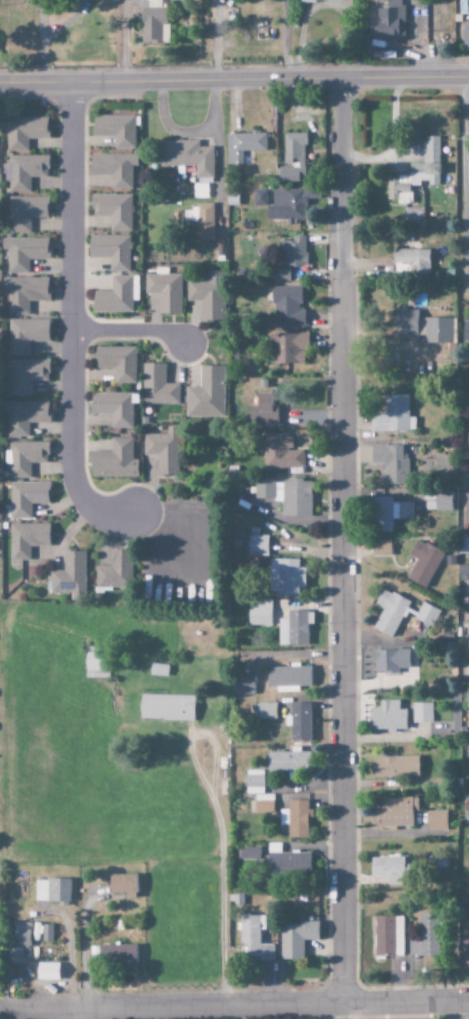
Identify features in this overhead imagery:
building: (146, 0)
building: (317, 0)
building: (388, 20)
building: (153, 25)
building: (465, 36)
road: (234, 80)
building: (115, 130)
building: (22, 132)
building: (243, 145)
building: (187, 157)
building: (114, 170)
building: (25, 172)
building: (416, 173)
building: (259, 198)
building: (286, 206)
building: (113, 210)
building: (25, 212)
building: (413, 217)
building: (203, 222)
building: (110, 251)
building: (293, 252)
building: (23, 253)
building: (411, 262)
building: (280, 275)
building: (165, 290)
building: (23, 293)
building: (117, 296)
building: (207, 296)
building: (287, 308)
road: (71, 320)
building: (422, 328)
road: (131, 331)
building: (465, 331)
building: (25, 335)
building: (287, 349)
building: (117, 363)
building: (26, 376)
building: (157, 387)
building: (206, 394)
building: (113, 408)
building: (271, 413)
building: (23, 416)
building: (393, 416)
building: (163, 451)
building: (468, 451)
building: (281, 456)
building: (24, 458)
building: (114, 461)
building: (391, 463)
building: (286, 496)
building: (26, 498)
building: (441, 500)
building: (390, 513)
building: (26, 539)
road: (344, 542)
building: (257, 546)
building: (463, 546)
building: (381, 548)
building: (423, 563)
building: (114, 571)
building: (69, 574)
building: (285, 577)
building: (399, 613)
building: (259, 616)
building: (294, 629)
building: (468, 642)
building: (389, 661)
building: (93, 663)
building: (158, 670)
building: (288, 678)
building: (243, 685)
building: (166, 708)
building: (264, 711)
building: (468, 712)
building: (421, 713)
building: (388, 717)
building: (299, 722)
building: (288, 763)
building: (394, 767)
building: (254, 782)
building: (262, 804)
building: (395, 813)
building: (296, 819)
building: (436, 821)
building: (467, 838)
building: (468, 850)
building: (288, 864)
building: (388, 870)
building: (123, 886)
building: (52, 892)
building: (46, 933)
building: (388, 937)
building: (425, 938)
building: (295, 939)
building: (253, 940)
building: (18, 942)
building: (465, 943)
building: (113, 956)
road: (234, 1005)
road: (81, 1013)

